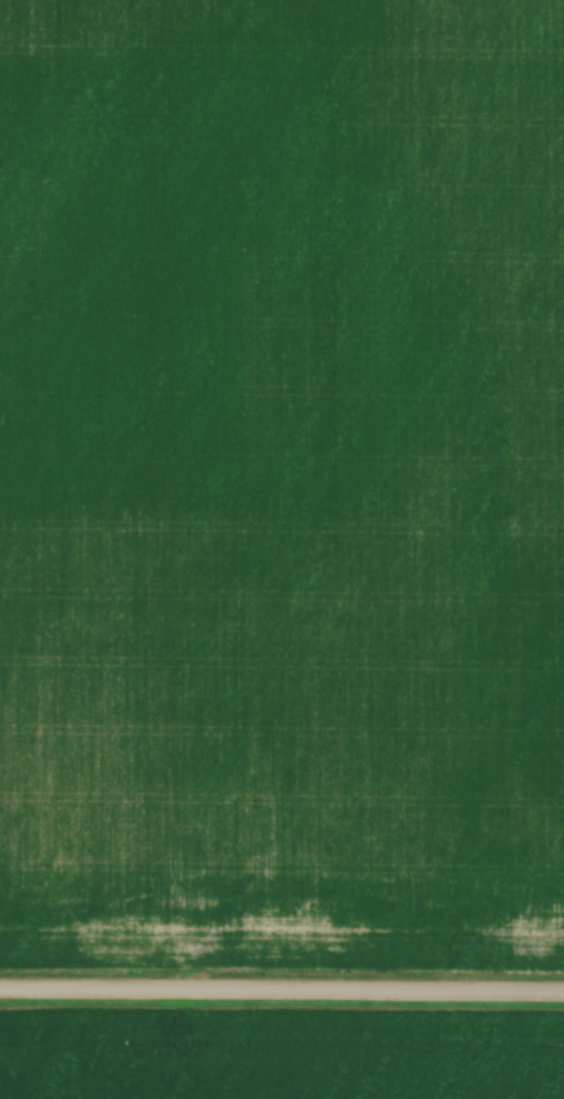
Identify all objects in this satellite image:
road: (282, 993)
crop: (279, 1054)

